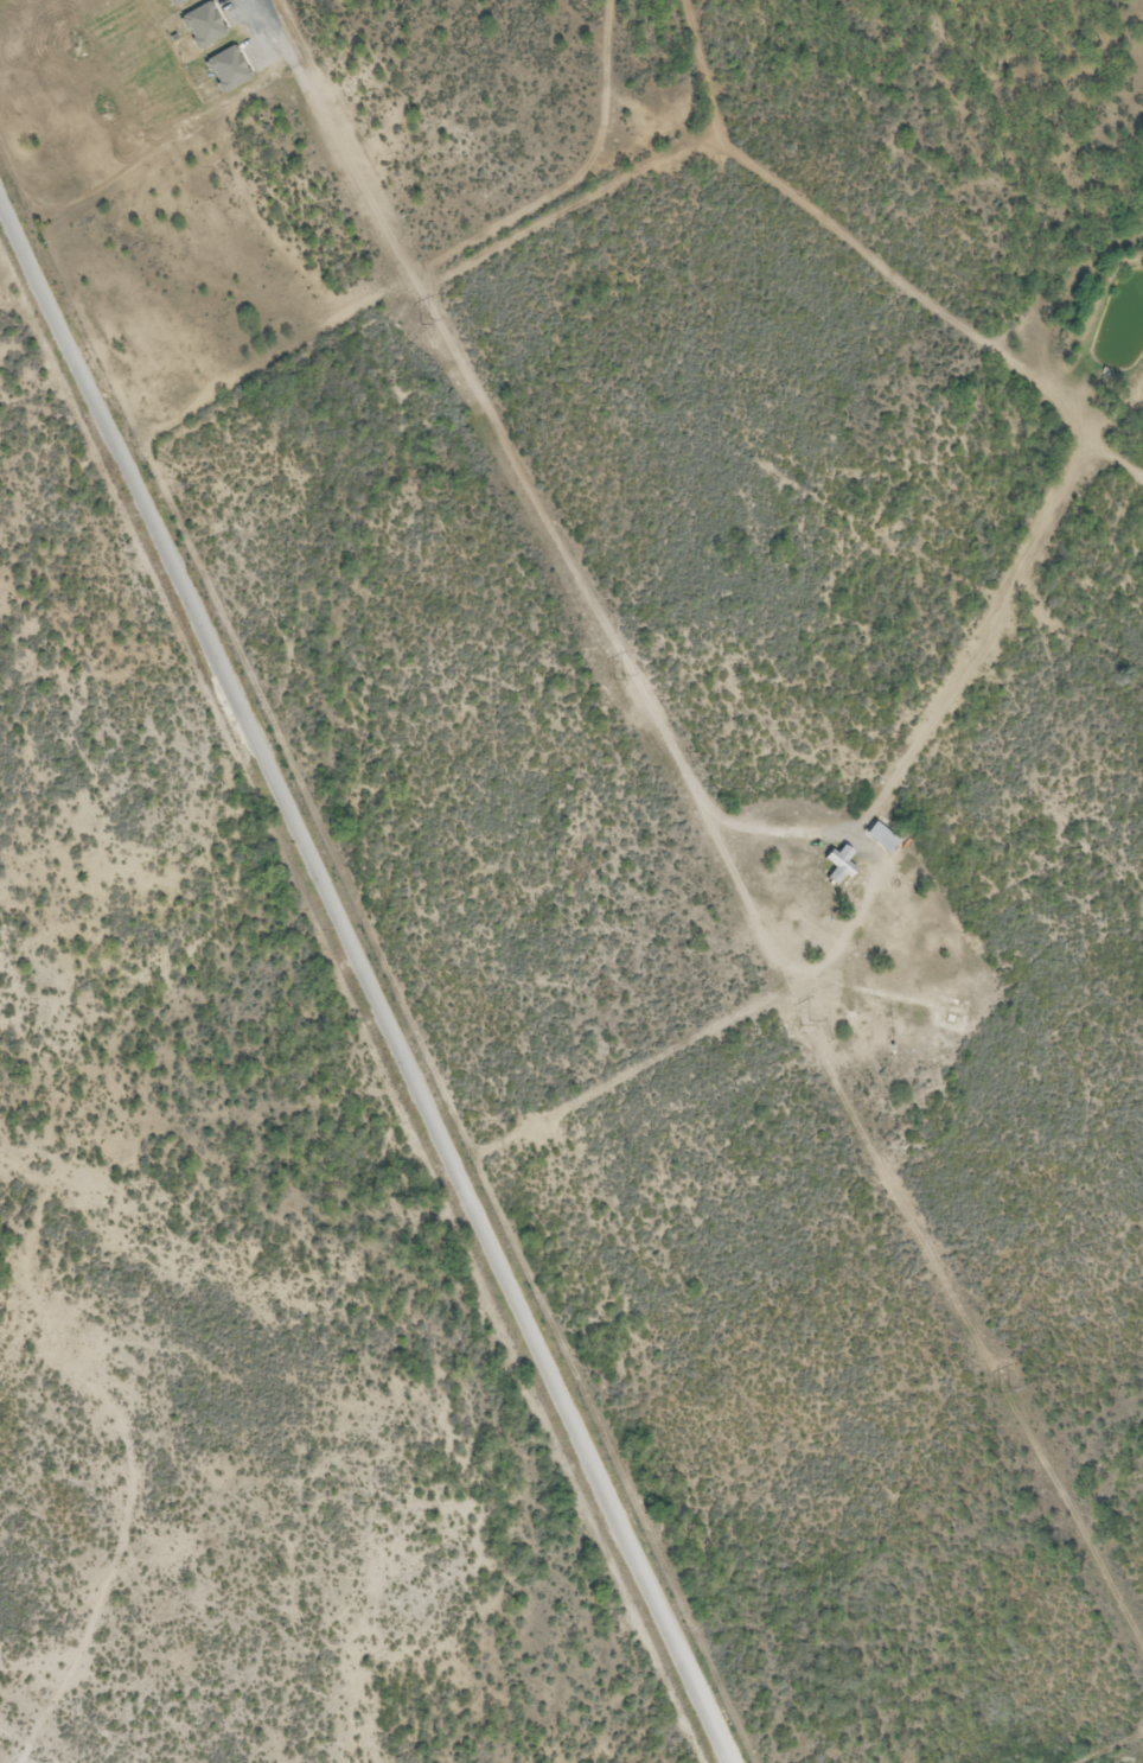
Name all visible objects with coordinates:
power tower: (426, 324)
power tower: (621, 677)
building: (885, 844)
building: (837, 867)
road: (370, 975)
power tower: (809, 1024)
power tower: (1003, 1393)

